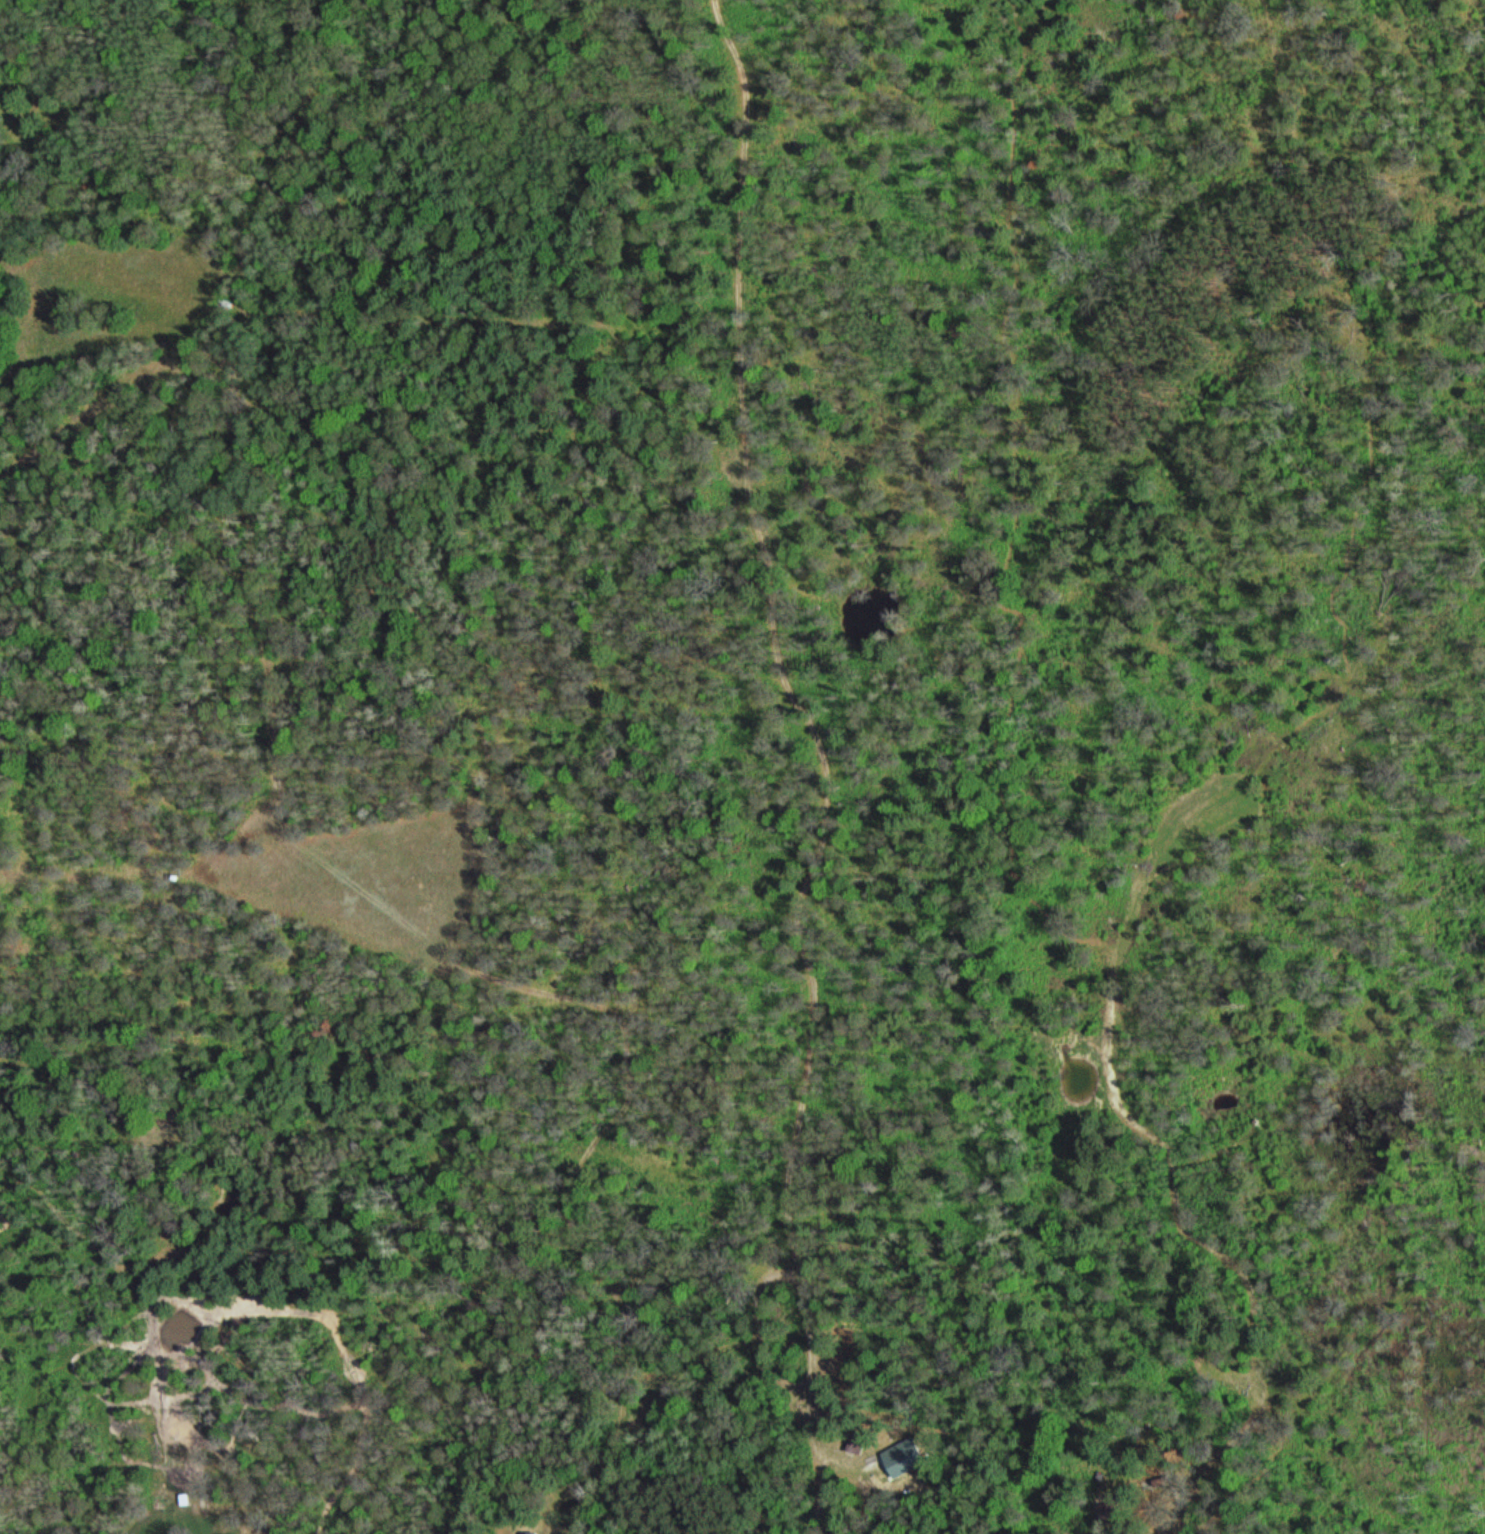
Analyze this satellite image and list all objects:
building: (873, 1465)

